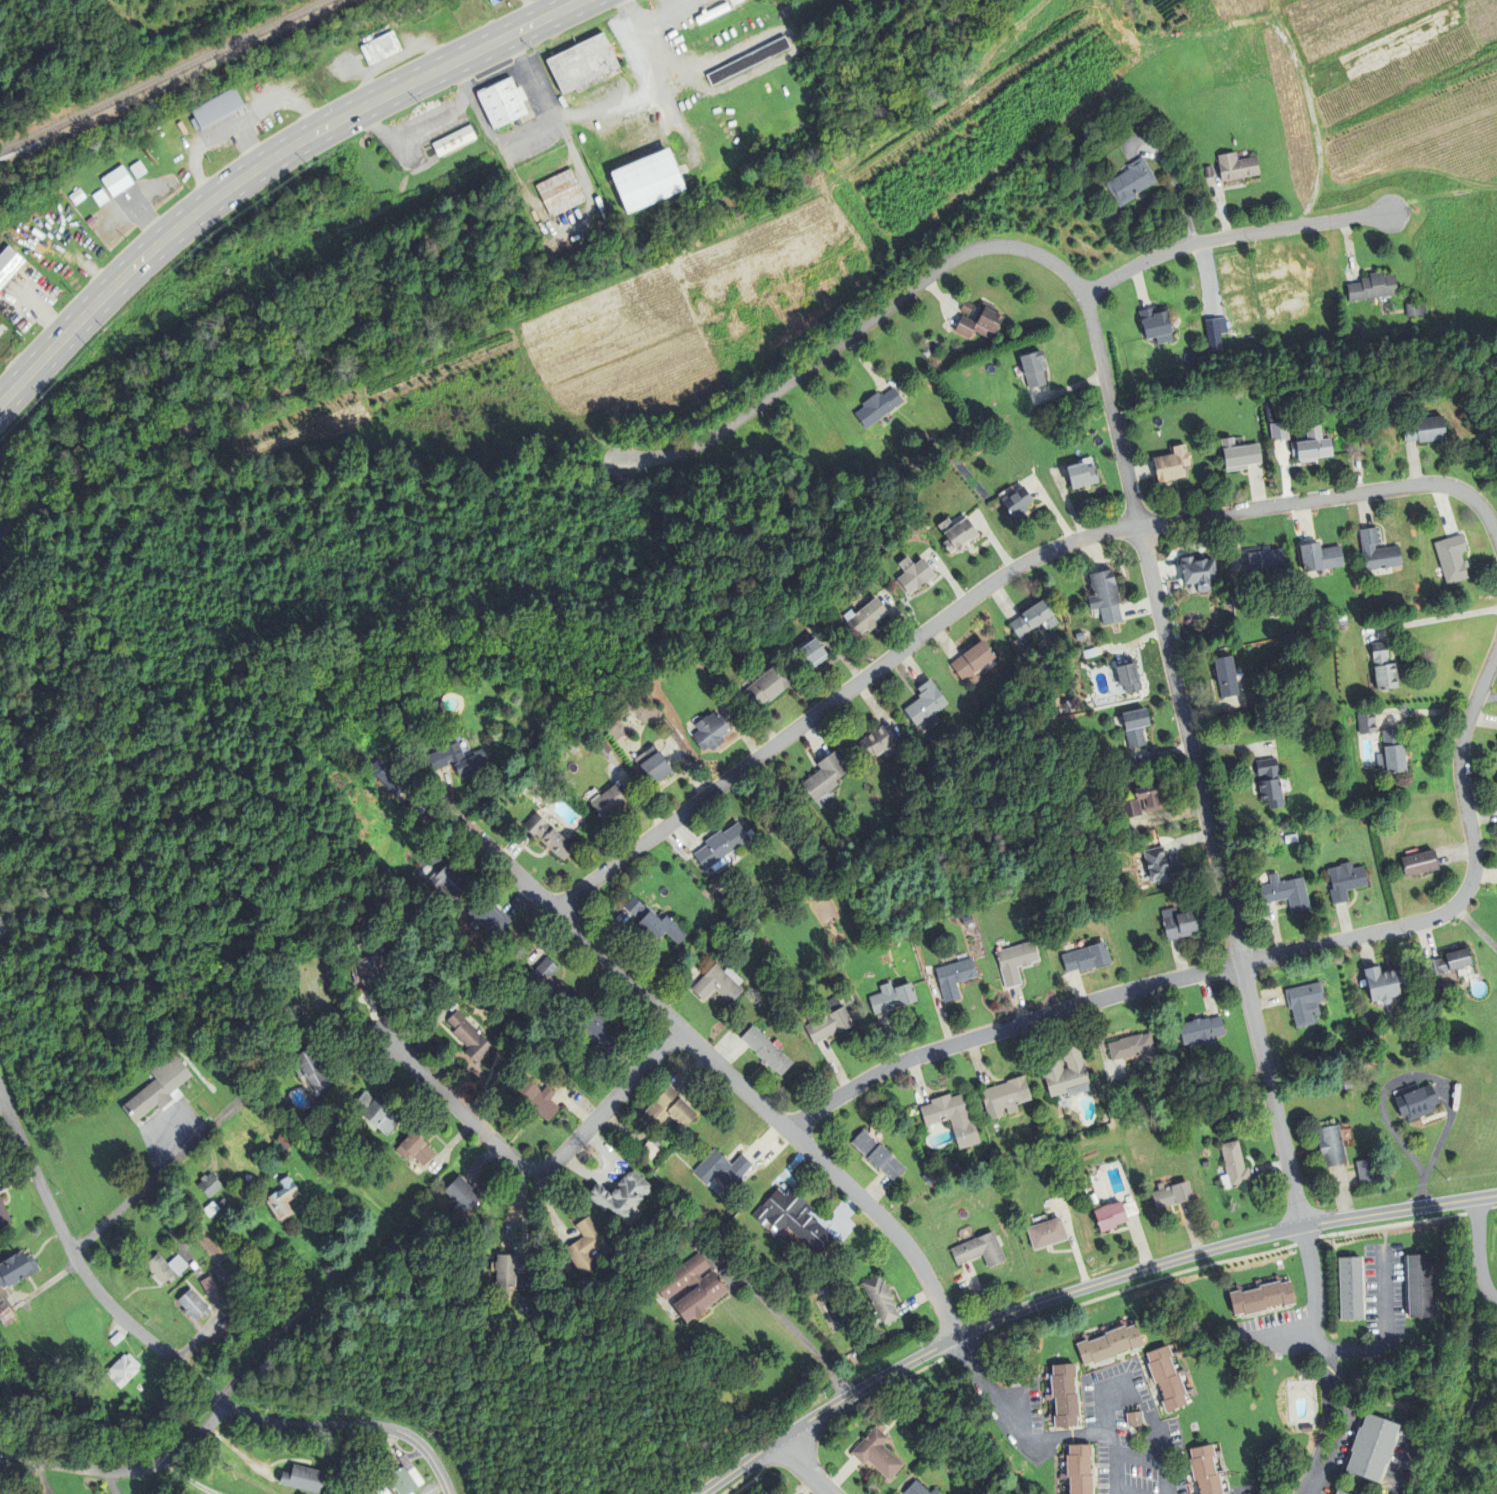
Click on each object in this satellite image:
building: (492, 1)
building: (736, 2)
road: (1288, 5)
road: (1278, 10)
building: (712, 14)
road: (1121, 25)
road: (1366, 32)
building: (378, 49)
building: (748, 62)
building: (582, 64)
railway: (166, 77)
road: (1407, 100)
building: (502, 103)
building: (213, 110)
road: (1052, 127)
road: (1317, 139)
building: (453, 141)
road: (265, 163)
building: (1237, 167)
road: (1393, 173)
building: (115, 182)
building: (646, 182)
building: (1131, 182)
building: (560, 193)
road: (806, 196)
road: (1441, 197)
road: (1343, 220)
road: (1184, 245)
building: (8, 263)
building: (1373, 288)
river: (516, 289)
building: (967, 308)
building: (1413, 308)
road: (870, 319)
building: (980, 323)
building: (1156, 326)
building: (1214, 335)
building: (1033, 370)
building: (878, 408)
building: (1425, 430)
building: (1280, 432)
road: (712, 435)
road: (600, 442)
building: (1312, 446)
road: (289, 453)
building: (1239, 456)
building: (1172, 465)
building: (1082, 476)
building: (1017, 503)
building: (957, 534)
building: (1378, 553)
building: (1320, 558)
building: (1453, 560)
building: (1265, 561)
building: (1199, 574)
building: (914, 576)
road: (991, 586)
building: (1105, 598)
building: (866, 618)
building: (1034, 620)
building: (1089, 654)
building: (811, 656)
building: (972, 662)
building: (1384, 669)
building: (1227, 678)
building: (1129, 679)
road: (1176, 685)
building: (767, 686)
building: (926, 707)
building: (1366, 723)
building: (1136, 728)
building: (710, 731)
building: (877, 745)
building: (1392, 755)
building: (457, 759)
building: (653, 765)
building: (825, 775)
building: (1270, 783)
building: (1149, 793)
building: (608, 801)
building: (414, 806)
building: (1131, 808)
building: (548, 836)
building: (720, 845)
building: (1420, 862)
building: (1161, 866)
building: (448, 880)
building: (1345, 881)
building: (1285, 892)
building: (489, 918)
building: (653, 921)
building: (1179, 923)
building: (1086, 958)
building: (1016, 961)
building: (1449, 962)
road: (1242, 964)
building: (370, 967)
building: (954, 978)
building: (1382, 983)
building: (718, 984)
building: (548, 985)
building: (892, 997)
building: (1305, 1002)
building: (828, 1021)
building: (1200, 1031)
building: (598, 1033)
building: (468, 1037)
building: (1131, 1048)
building: (765, 1050)
road: (711, 1060)
building: (311, 1071)
building: (1064, 1072)
road: (1429, 1076)
building: (155, 1087)
building: (1002, 1097)
building: (538, 1099)
building: (1417, 1102)
building: (669, 1108)
building: (375, 1113)
road: (10, 1115)
building: (951, 1119)
parking lot: (169, 1134)
building: (239, 1134)
building: (280, 1141)
building: (1332, 1145)
building: (414, 1148)
building: (875, 1155)
building: (1232, 1164)
road: (534, 1170)
building: (722, 1170)
building: (1366, 1170)
road: (160, 1172)
building: (245, 1177)
building: (206, 1184)
building: (462, 1193)
building: (620, 1195)
building: (1170, 1195)
building: (280, 1199)
road: (1468, 1200)
building: (220, 1202)
building: (208, 1209)
building: (1107, 1215)
building: (789, 1217)
building: (3, 1218)
building: (1044, 1233)
building: (585, 1246)
building: (977, 1250)
road: (1480, 1251)
road: (1157, 1267)
building: (15, 1268)
building: (163, 1268)
building: (509, 1272)
road: (344, 1284)
building: (1418, 1285)
building: (1348, 1288)
building: (707, 1289)
road: (98, 1291)
building: (226, 1298)
building: (1259, 1299)
building: (878, 1302)
building: (190, 1305)
park: (1471, 1312)
road: (776, 1314)
road: (1384, 1328)
road: (1285, 1334)
building: (114, 1338)
building: (1107, 1345)
road: (1323, 1361)
building: (120, 1370)
building: (1167, 1378)
building: (1062, 1396)
road: (823, 1410)
building: (1132, 1419)
road: (352, 1424)
road: (1033, 1439)
building: (1370, 1449)
building: (877, 1454)
road: (1159, 1457)
road: (1136, 1458)
road: (1403, 1465)
road: (799, 1469)
building: (1077, 1469)
road: (1113, 1469)
building: (1206, 1470)
road: (124, 1471)
road: (730, 1473)
building: (301, 1477)
building: (402, 1480)
building: (916, 1489)
building: (935, 1492)
building: (1338, 1492)

